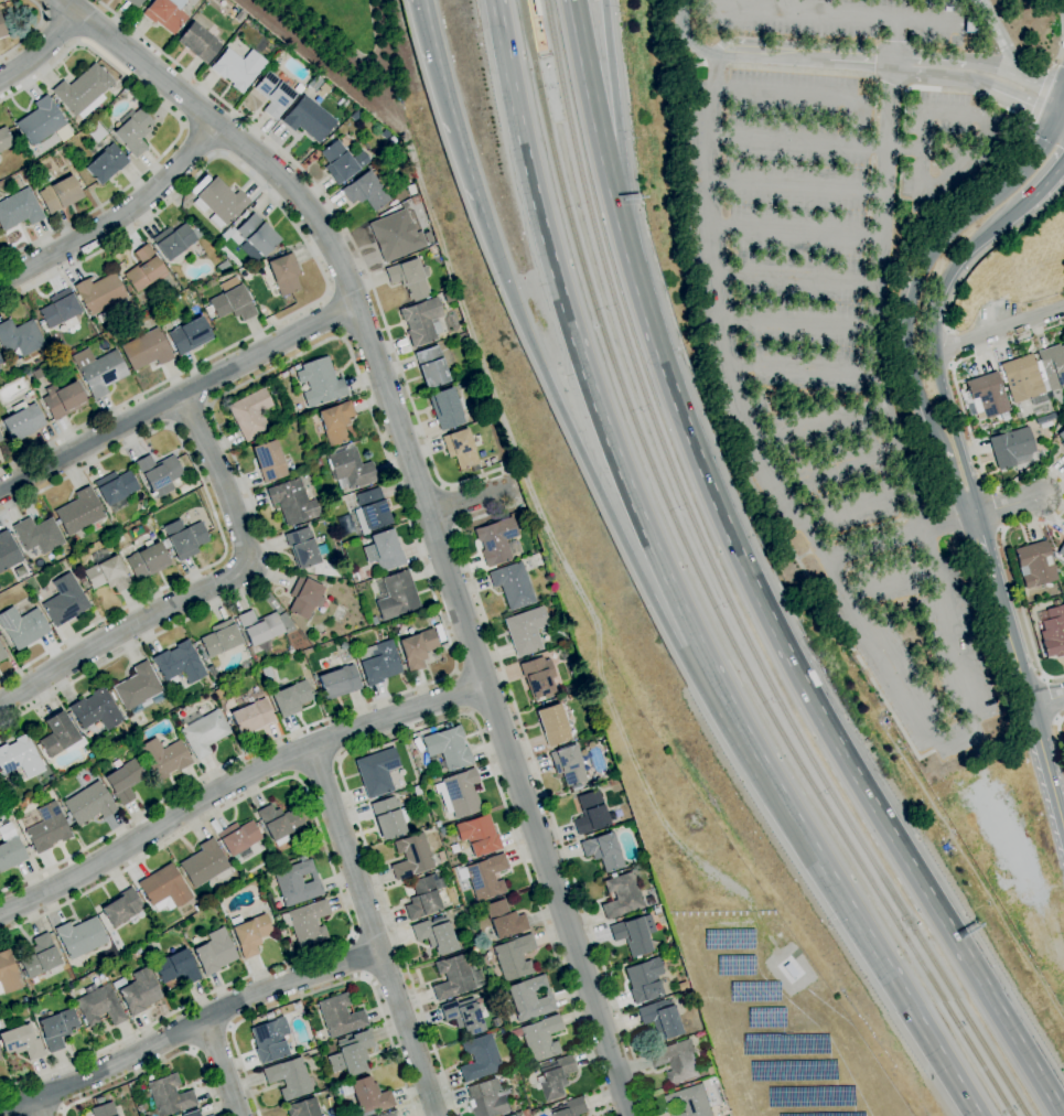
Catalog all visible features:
building: (136, 2)
road: (729, 3)
building: (536, 8)
building: (165, 13)
road: (831, 14)
building: (239, 17)
road: (427, 19)
building: (970, 24)
building: (2, 29)
road: (31, 32)
road: (1062, 33)
road: (56, 35)
road: (685, 35)
road: (998, 37)
road: (78, 40)
building: (197, 42)
road: (668, 44)
road: (42, 47)
railway: (540, 51)
road: (804, 53)
road: (377, 62)
road: (955, 62)
road: (716, 64)
building: (237, 68)
road: (800, 69)
road: (891, 82)
road: (977, 83)
building: (314, 84)
road: (1041, 85)
building: (298, 88)
building: (323, 88)
building: (126, 90)
building: (83, 92)
road: (972, 94)
building: (273, 95)
road: (805, 95)
road: (1040, 96)
building: (356, 115)
road: (1063, 116)
building: (309, 119)
traffic signals: (1062, 119)
road: (1063, 119)
building: (40, 121)
road: (180, 126)
road: (599, 129)
road: (616, 129)
building: (133, 130)
building: (95, 131)
building: (4, 139)
road: (200, 140)
road: (816, 141)
road: (460, 147)
building: (361, 160)
building: (337, 162)
building: (105, 164)
road: (952, 173)
road: (796, 186)
building: (411, 190)
building: (366, 191)
road: (1043, 191)
building: (60, 194)
building: (219, 202)
building: (19, 208)
road: (118, 218)
road: (345, 230)
road: (796, 232)
building: (256, 234)
building: (396, 236)
building: (175, 240)
road: (987, 249)
road: (313, 259)
road: (923, 261)
building: (223, 266)
building: (144, 269)
building: (284, 273)
road: (796, 277)
building: (409, 279)
building: (128, 289)
building: (99, 292)
building: (449, 297)
building: (232, 301)
parking lot: (841, 304)
building: (60, 310)
road: (335, 315)
building: (422, 321)
road: (798, 324)
road: (999, 330)
building: (189, 336)
building: (19, 337)
building: (118, 339)
building: (445, 348)
building: (146, 350)
road: (934, 352)
building: (0, 361)
building: (1052, 365)
building: (431, 366)
building: (297, 367)
road: (802, 368)
building: (99, 371)
building: (36, 374)
building: (1021, 377)
building: (320, 382)
building: (1044, 385)
building: (29, 394)
building: (986, 396)
road: (176, 397)
building: (63, 399)
building: (447, 408)
road: (963, 411)
building: (250, 414)
road: (191, 417)
building: (22, 420)
building: (335, 421)
building: (1044, 421)
road: (818, 422)
road: (378, 438)
building: (1061, 438)
building: (0, 439)
building: (1010, 447)
building: (460, 448)
building: (269, 460)
building: (315, 463)
road: (838, 464)
road: (519, 465)
building: (348, 466)
building: (475, 466)
building: (159, 473)
road: (950, 487)
building: (115, 490)
road: (469, 500)
building: (292, 501)
road: (426, 506)
building: (522, 506)
road: (451, 507)
road: (1006, 507)
road: (857, 508)
building: (370, 509)
building: (325, 511)
building: (79, 512)
building: (525, 512)
road: (216, 521)
building: (522, 523)
building: (37, 535)
road: (899, 538)
building: (187, 540)
building: (496, 540)
building: (301, 548)
road: (981, 548)
building: (383, 550)
building: (1061, 550)
building: (8, 551)
road: (631, 559)
building: (147, 561)
building: (1034, 565)
building: (106, 572)
building: (80, 578)
road: (1013, 580)
road: (891, 583)
building: (513, 584)
railway: (703, 584)
railway: (721, 584)
road: (670, 586)
road: (206, 590)
building: (1057, 593)
building: (396, 595)
building: (304, 597)
building: (65, 600)
building: (22, 626)
building: (259, 626)
building: (526, 630)
building: (1054, 631)
building: (219, 637)
building: (417, 647)
building: (201, 652)
building: (290, 652)
building: (1, 654)
building: (378, 661)
building: (179, 663)
road: (456, 672)
building: (267, 673)
building: (212, 674)
building: (538, 676)
building: (338, 682)
building: (569, 688)
building: (138, 689)
road: (466, 691)
building: (291, 698)
road: (1046, 701)
road: (814, 702)
road: (1029, 705)
building: (97, 709)
building: (250, 712)
road: (472, 712)
road: (426, 725)
building: (554, 725)
building: (448, 726)
building: (202, 731)
road: (1058, 734)
building: (60, 736)
road: (944, 739)
building: (448, 748)
building: (413, 753)
building: (19, 758)
building: (164, 758)
road: (315, 764)
building: (568, 764)
building: (376, 772)
building: (125, 780)
road: (235, 781)
building: (613, 781)
road: (542, 791)
building: (459, 793)
building: (89, 803)
building: (591, 812)
building: (613, 815)
building: (389, 817)
building: (279, 823)
building: (46, 827)
building: (479, 835)
building: (239, 838)
building: (10, 847)
building: (603, 850)
building: (411, 856)
building: (440, 857)
building: (204, 863)
road: (335, 877)
building: (486, 877)
building: (297, 882)
building: (164, 889)
building: (622, 895)
building: (423, 897)
building: (648, 900)
building: (121, 906)
building: (197, 908)
building: (267, 910)
building: (656, 911)
building: (504, 919)
building: (307, 922)
road: (374, 931)
building: (249, 933)
building: (434, 934)
building: (80, 936)
road: (353, 936)
building: (632, 936)
building: (474, 949)
building: (138, 951)
building: (215, 952)
building: (39, 956)
road: (362, 956)
building: (514, 957)
building: (176, 967)
building: (787, 969)
building: (8, 974)
road: (366, 977)
building: (455, 977)
building: (644, 979)
building: (118, 983)
road: (323, 989)
building: (139, 991)
building: (529, 998)
building: (99, 1002)
building: (340, 1016)
building: (463, 1016)
building: (659, 1018)
solar farm: (774, 1021)
building: (495, 1022)
road: (189, 1026)
road: (230, 1028)
building: (56, 1029)
road: (211, 1037)
building: (541, 1038)
building: (20, 1041)
building: (271, 1041)
road: (193, 1050)
building: (351, 1054)
building: (480, 1058)
building: (677, 1061)
road: (155, 1065)
road: (223, 1066)
building: (557, 1076)
building: (288, 1077)
building: (169, 1095)
building: (367, 1095)
building: (488, 1098)
building: (99, 1099)
building: (690, 1102)
road: (36, 1106)
building: (572, 1107)
building: (303, 1108)
building: (104, 1110)
building: (528, 1112)
building: (534, 1112)
road: (56, 1113)
building: (191, 1113)
building: (390, 1114)
building: (515, 1115)

